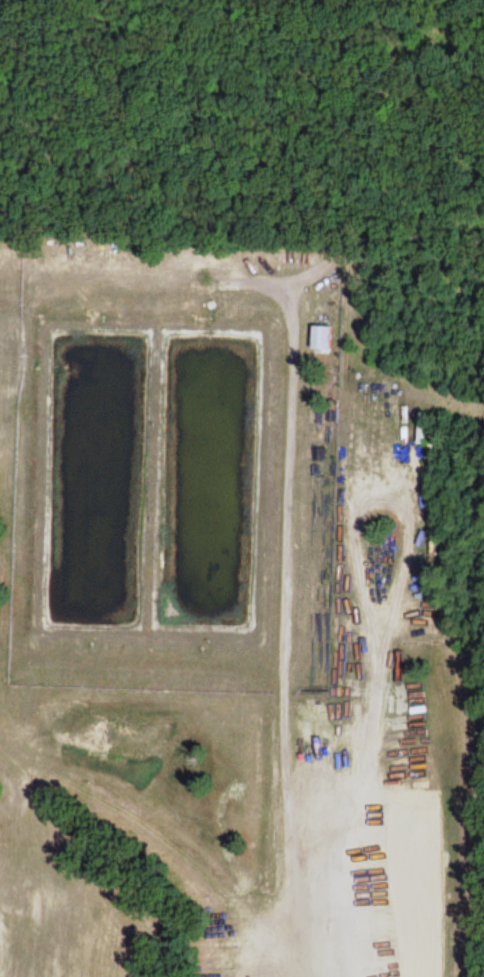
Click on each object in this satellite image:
road: (266, 40)
building: (317, 334)
landfill: (241, 605)
road: (279, 634)

